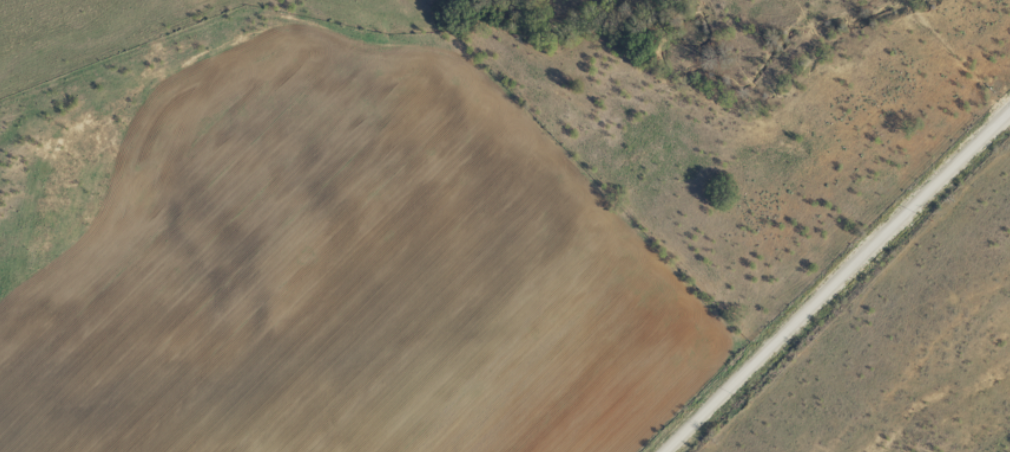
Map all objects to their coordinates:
road: (835, 278)

